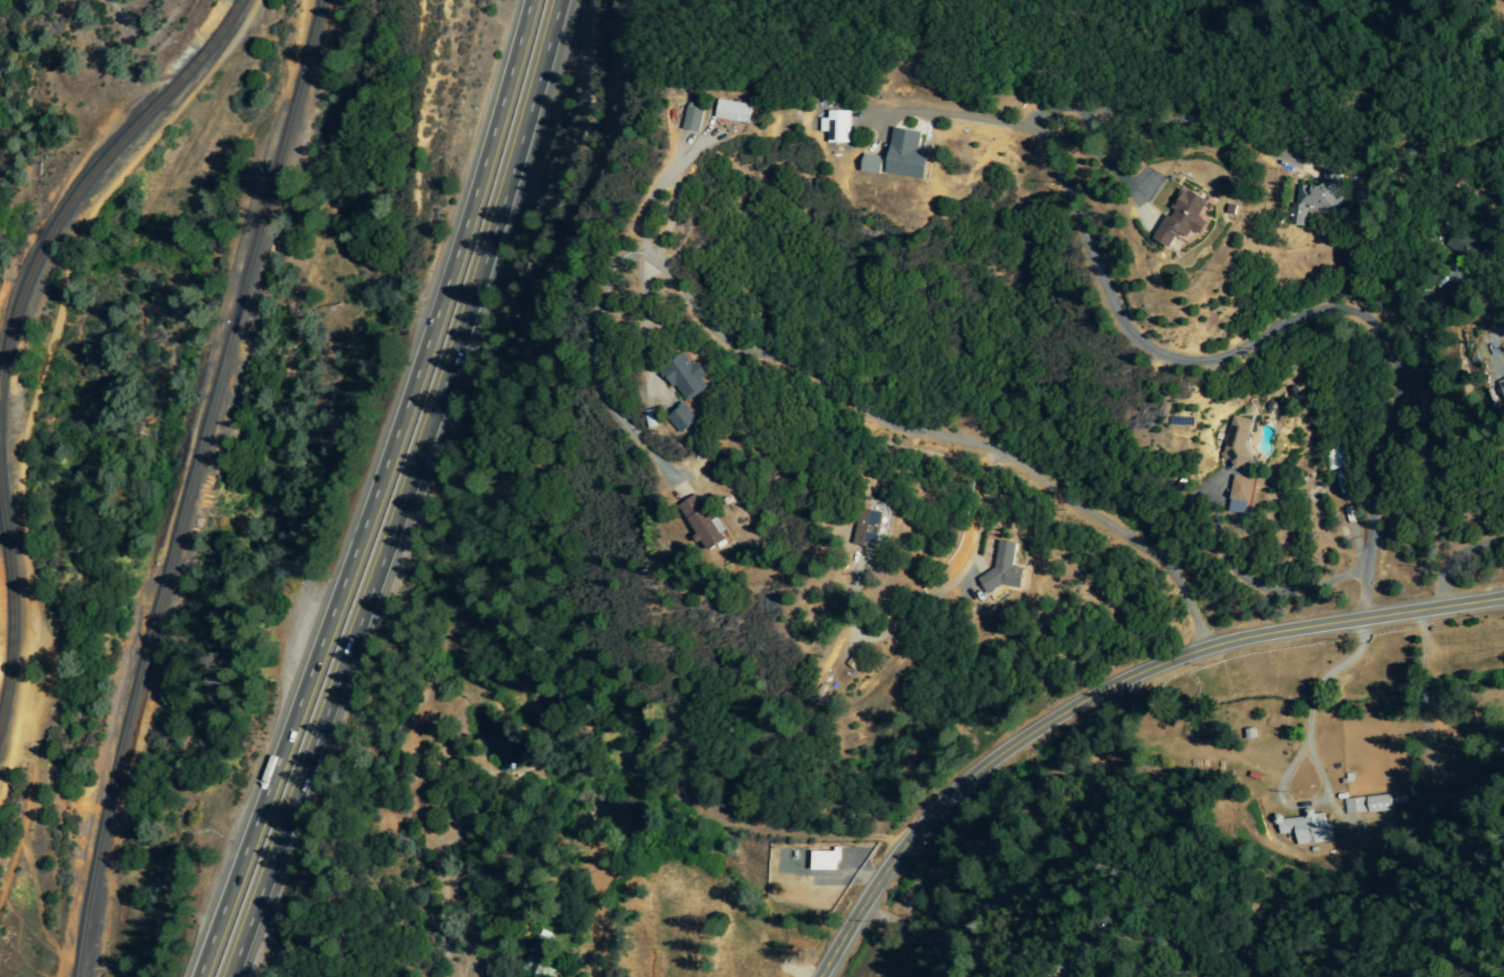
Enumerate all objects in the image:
building: (739, 114)
road: (948, 115)
road: (1172, 120)
building: (700, 121)
building: (842, 129)
road: (681, 157)
building: (911, 157)
building: (877, 166)
road: (1111, 174)
railway: (89, 180)
road: (1145, 185)
road: (659, 189)
building: (1318, 196)
building: (1187, 220)
building: (1461, 244)
road: (1499, 261)
road: (1500, 319)
road: (1282, 326)
road: (646, 332)
road: (1502, 335)
road: (1502, 344)
road: (592, 368)
building: (691, 380)
building: (1502, 385)
building: (688, 422)
road: (937, 438)
building: (1237, 440)
railway: (194, 487)
road: (417, 493)
road: (383, 494)
building: (1240, 495)
building: (707, 521)
building: (866, 528)
road: (1453, 558)
building: (1004, 569)
road: (1243, 582)
railway: (11, 592)
road: (932, 596)
road: (1342, 664)
road: (1103, 689)
road: (1309, 706)
road: (1314, 769)
road: (1274, 800)
building: (1368, 804)
building: (1305, 828)
building: (824, 860)
road: (863, 869)
road: (844, 882)
road: (881, 920)

